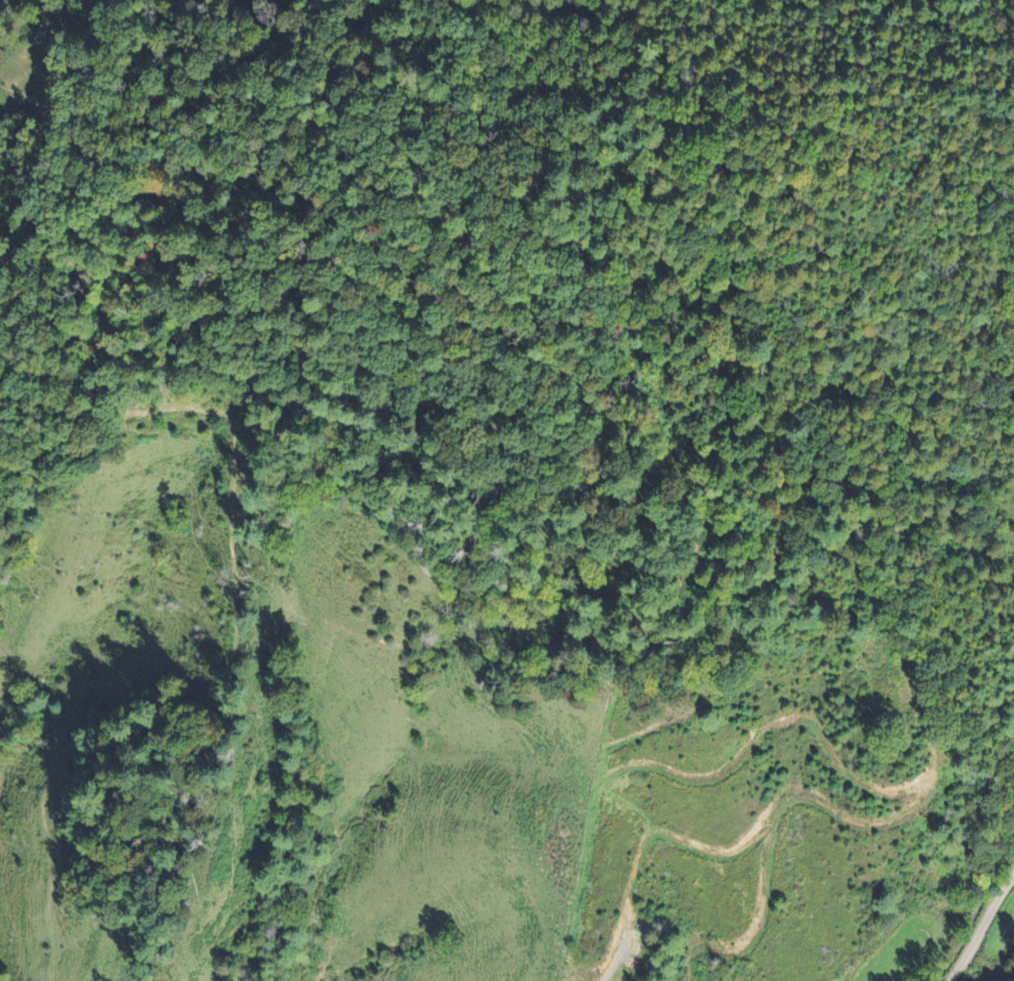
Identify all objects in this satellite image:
road: (978, 928)

